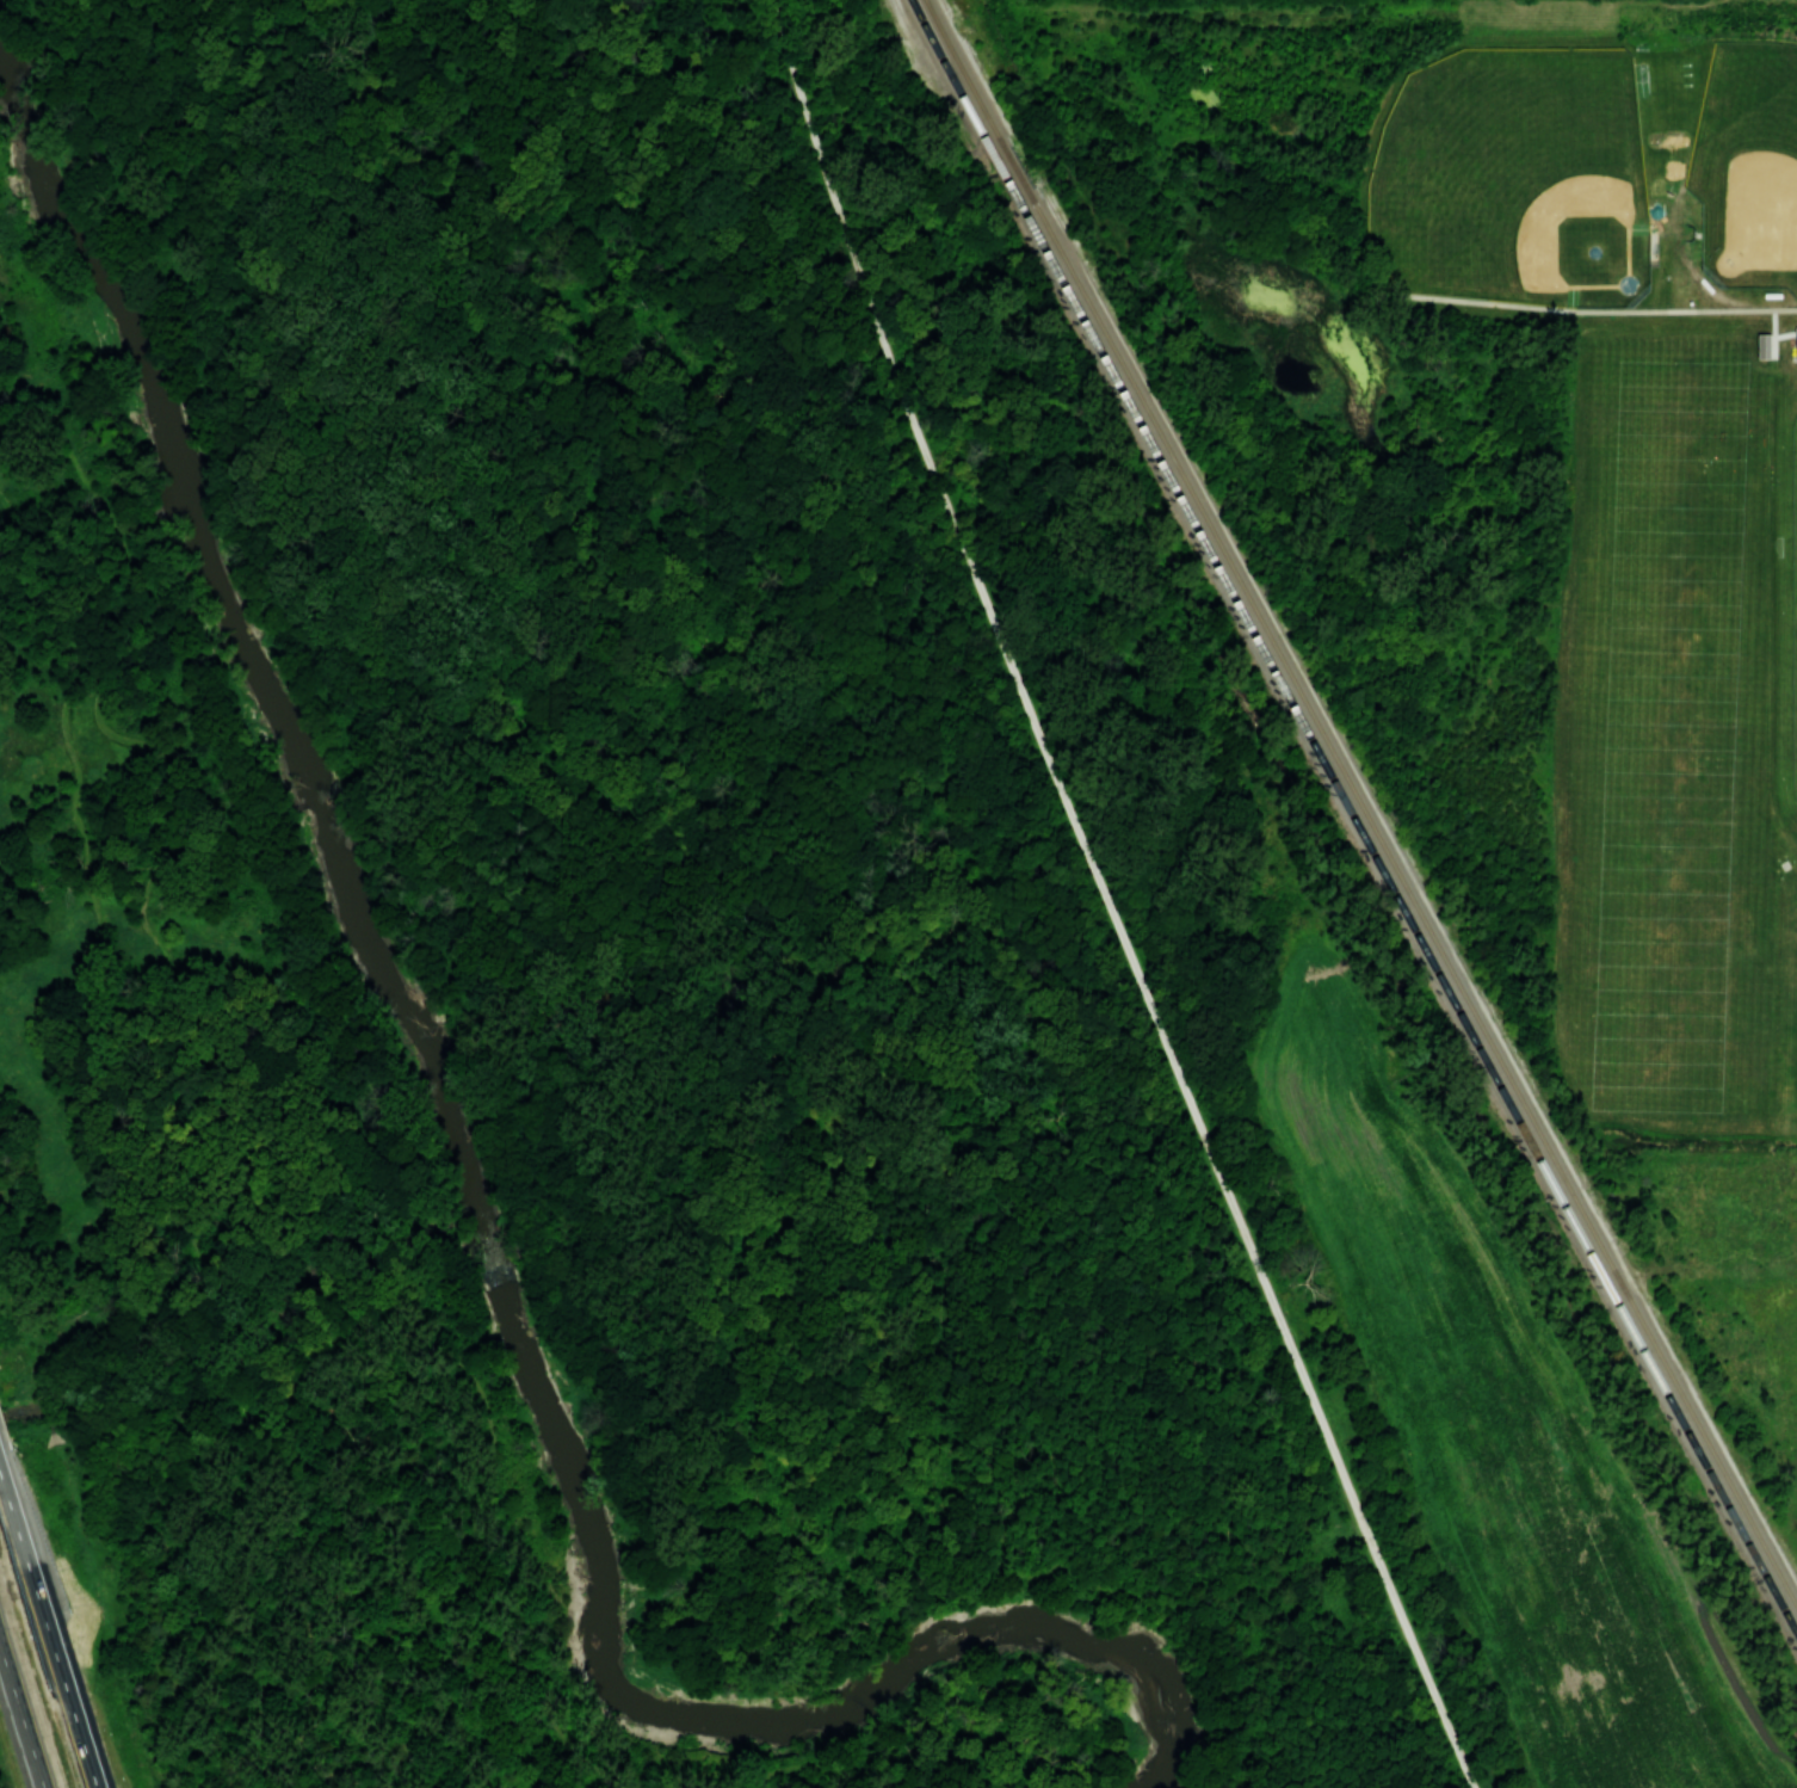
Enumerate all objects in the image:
road: (777, 21)
railway: (949, 70)
railway: (968, 72)
road: (802, 103)
road: (477, 156)
park: (1748, 165)
park: (1515, 178)
railway: (1008, 181)
railway: (1027, 185)
road: (629, 236)
building: (1764, 345)
building: (1791, 350)
park: (1679, 458)
park: (1456, 726)
park: (1668, 795)
park: (1792, 892)
road: (93, 898)
railway: (1424, 911)
park: (613, 924)
railway: (1412, 929)
road: (1137, 978)
road: (811, 986)
park: (1667, 1026)
river: (457, 1183)
road: (234, 1269)
road: (273, 1287)
road: (304, 1306)
road: (329, 1332)
road: (289, 1585)
road: (48, 1632)
road: (18, 1726)

